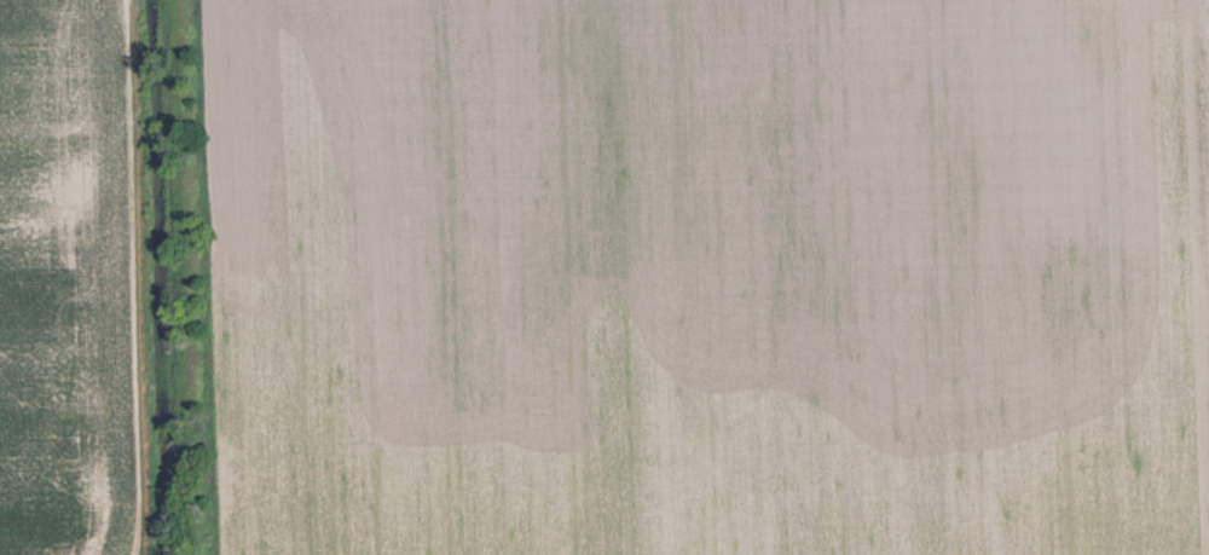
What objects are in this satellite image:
road: (132, 277)

